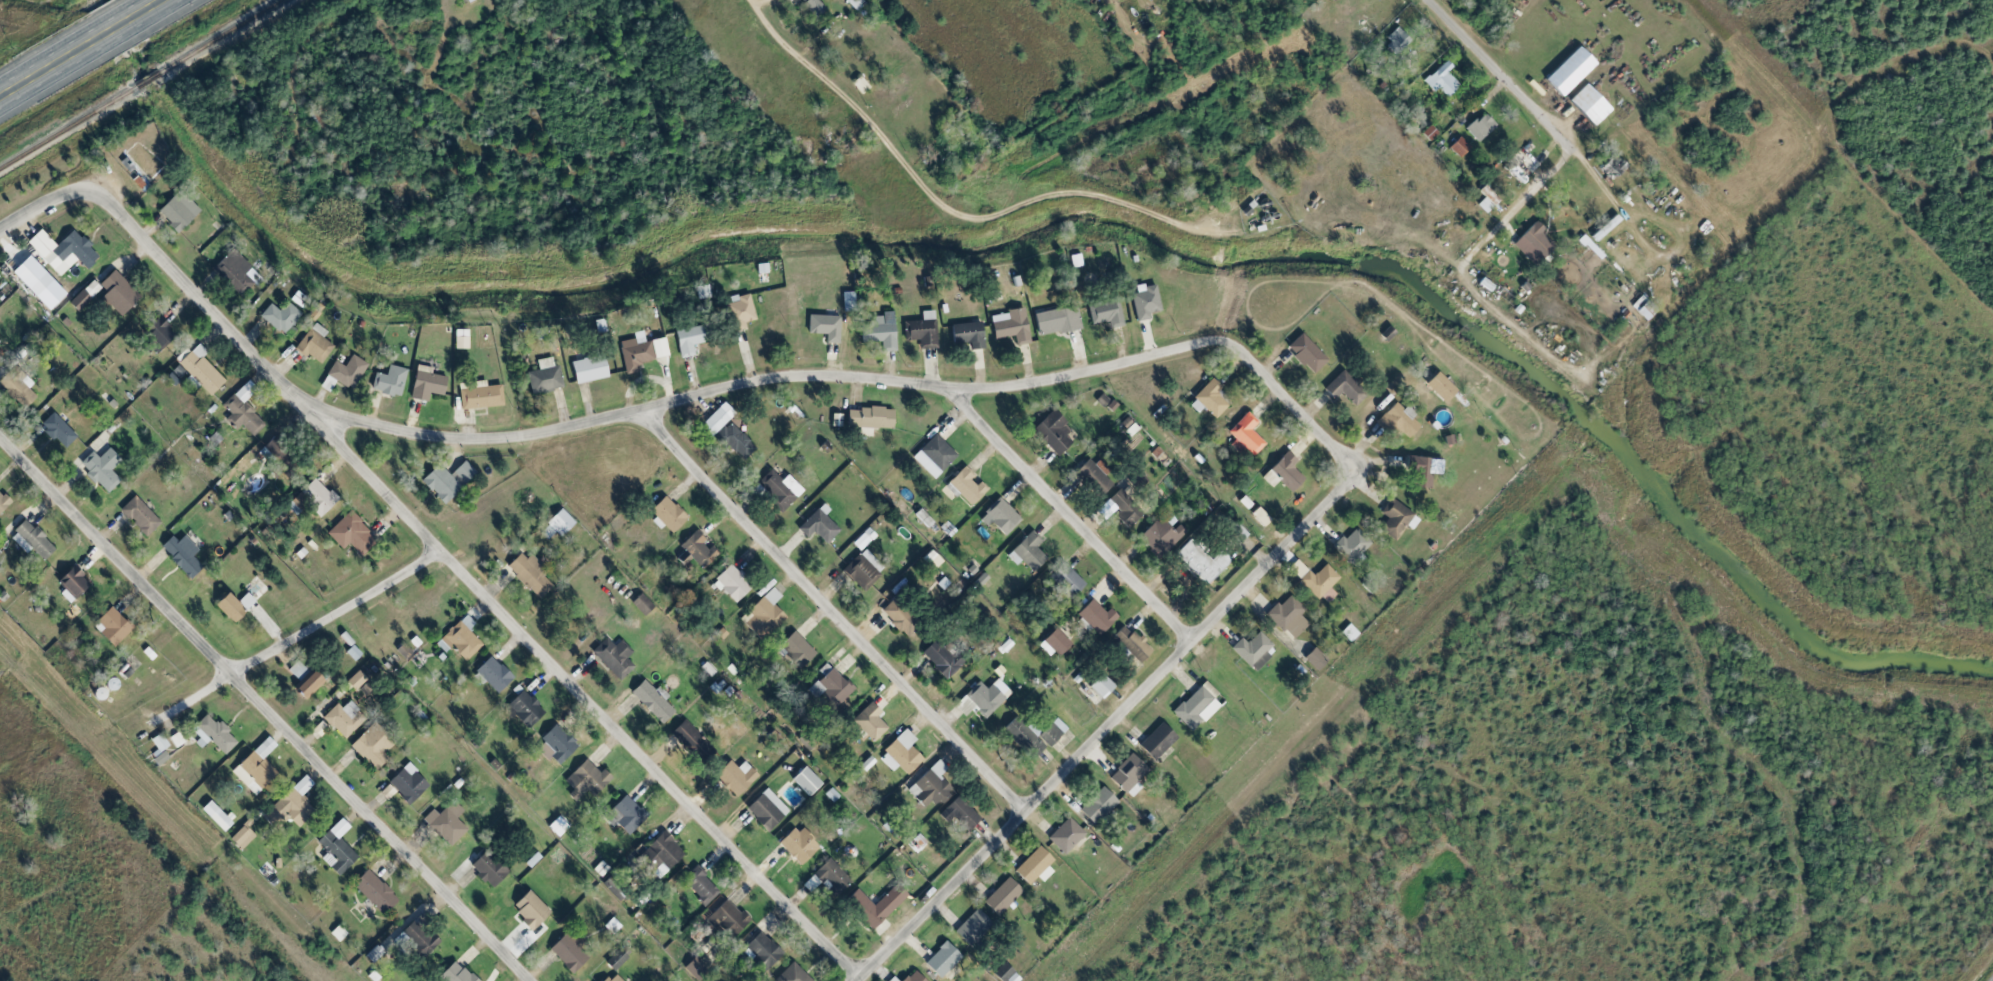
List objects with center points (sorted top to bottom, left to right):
building: (857, 3)
building: (814, 6)
road: (8, 17)
railway: (225, 37)
building: (1397, 40)
road: (80, 47)
road: (1506, 71)
building: (1569, 71)
building: (1442, 79)
railway: (150, 82)
building: (861, 86)
building: (1589, 104)
building: (1481, 127)
railway: (68, 129)
building: (1429, 133)
building: (1460, 146)
building: (1615, 167)
building: (1488, 199)
road: (40, 201)
building: (179, 206)
road: (948, 207)
building: (1534, 243)
building: (80, 244)
building: (1135, 255)
building: (1076, 256)
building: (233, 265)
building: (764, 269)
building: (0, 274)
building: (32, 276)
building: (1018, 276)
building: (121, 289)
building: (85, 290)
building: (702, 291)
building: (847, 293)
building: (1145, 296)
building: (321, 304)
building: (1198, 304)
building: (737, 308)
building: (1643, 308)
building: (1106, 309)
building: (315, 313)
building: (1057, 314)
building: (280, 315)
building: (67, 319)
building: (363, 321)
building: (1015, 323)
building: (826, 324)
building: (879, 327)
building: (922, 327)
building: (968, 328)
building: (413, 329)
building: (159, 330)
building: (462, 334)
building: (1387, 334)
building: (698, 335)
building: (1, 337)
building: (316, 339)
building: (641, 348)
building: (2, 352)
building: (1306, 353)
building: (546, 363)
building: (349, 367)
building: (201, 368)
building: (592, 369)
road: (859, 373)
building: (546, 375)
building: (391, 377)
building: (427, 379)
building: (21, 380)
building: (1345, 388)
building: (1443, 389)
building: (482, 392)
building: (1210, 398)
building: (1106, 402)
building: (245, 411)
building: (869, 418)
building: (717, 419)
building: (836, 420)
building: (1398, 420)
building: (59, 427)
building: (1128, 427)
building: (1054, 432)
building: (1247, 434)
building: (736, 441)
building: (934, 456)
building: (101, 461)
building: (1424, 465)
building: (1284, 473)
building: (449, 477)
building: (1094, 477)
building: (967, 486)
building: (780, 488)
building: (319, 492)
building: (5, 498)
building: (1124, 508)
building: (229, 511)
building: (141, 512)
road: (1070, 513)
building: (667, 515)
building: (1000, 517)
building: (1261, 517)
building: (1397, 519)
building: (559, 523)
building: (819, 525)
building: (356, 531)
building: (35, 536)
building: (1160, 537)
building: (864, 539)
building: (313, 540)
building: (1352, 545)
building: (698, 549)
building: (184, 550)
building: (303, 550)
building: (1027, 552)
building: (682, 559)
building: (932, 559)
building: (0, 561)
building: (1202, 562)
building: (530, 574)
building: (77, 578)
road: (475, 581)
building: (1068, 581)
building: (943, 583)
building: (1321, 583)
building: (732, 584)
building: (5, 596)
building: (237, 601)
building: (642, 604)
road: (833, 611)
building: (765, 615)
building: (900, 617)
building: (1096, 617)
building: (1288, 617)
building: (115, 623)
road: (296, 633)
building: (461, 639)
building: (1056, 643)
building: (1132, 643)
building: (797, 649)
building: (150, 650)
building: (1253, 651)
building: (353, 652)
building: (614, 658)
building: (942, 658)
building: (1315, 659)
building: (494, 674)
building: (302, 679)
building: (831, 686)
building: (1101, 686)
building: (987, 697)
building: (653, 700)
building: (1197, 706)
road: (265, 708)
building: (525, 709)
building: (344, 719)
building: (869, 722)
road: (1107, 726)
building: (215, 735)
building: (1034, 736)
building: (177, 740)
building: (692, 742)
building: (1157, 742)
building: (559, 743)
building: (371, 747)
building: (159, 749)
building: (901, 753)
building: (256, 767)
building: (1129, 775)
building: (736, 777)
building: (586, 780)
building: (806, 781)
building: (408, 783)
building: (930, 786)
building: (290, 806)
building: (1098, 806)
building: (767, 810)
building: (960, 814)
building: (626, 815)
building: (216, 816)
building: (446, 823)
building: (557, 826)
building: (1066, 836)
building: (242, 837)
building: (799, 845)
building: (337, 848)
building: (661, 854)
building: (1035, 867)
building: (488, 869)
building: (828, 878)
building: (700, 886)
building: (375, 892)
building: (1003, 897)
building: (875, 906)
building: (530, 910)
building: (726, 918)
building: (612, 926)
building: (973, 928)
building: (338, 933)
building: (418, 939)
building: (763, 950)
building: (568, 952)
building: (373, 954)
building: (616, 960)
building: (942, 960)
building: (695, 968)
building: (1006, 973)
building: (455, 974)
building: (792, 974)
building: (916, 977)
building: (612, 978)

